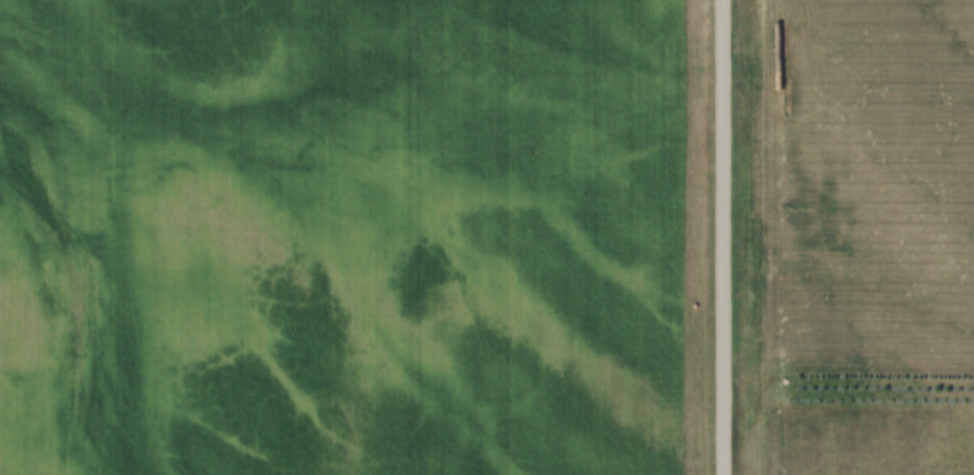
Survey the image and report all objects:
road: (732, 237)

